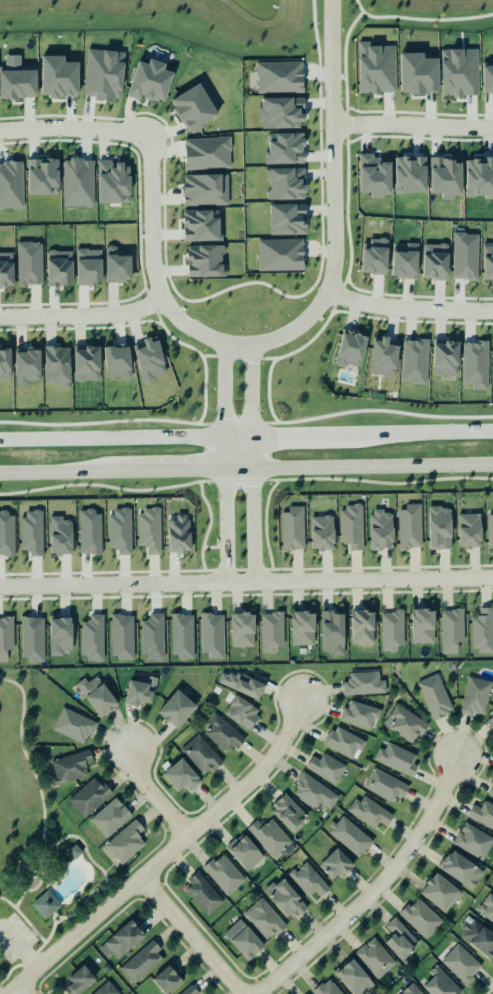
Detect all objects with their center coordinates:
road: (358, 6)
park: (419, 14)
road: (427, 20)
road: (316, 34)
building: (382, 53)
road: (345, 57)
building: (460, 73)
building: (96, 77)
building: (60, 78)
building: (279, 78)
building: (488, 80)
building: (149, 82)
building: (19, 85)
building: (196, 109)
building: (283, 114)
road: (413, 125)
road: (74, 131)
building: (286, 150)
building: (209, 154)
building: (44, 177)
building: (480, 179)
building: (114, 182)
building: (286, 185)
building: (11, 186)
building: (207, 191)
road: (334, 194)
building: (289, 220)
building: (279, 256)
building: (377, 258)
building: (206, 262)
building: (436, 262)
building: (406, 263)
building: (30, 264)
building: (489, 264)
building: (118, 267)
building: (90, 268)
building: (61, 269)
building: (7, 270)
road: (155, 271)
road: (408, 306)
road: (83, 315)
building: (352, 350)
building: (385, 359)
building: (150, 360)
building: (447, 360)
building: (88, 364)
building: (119, 364)
building: (5, 365)
building: (58, 365)
building: (28, 366)
building: (476, 367)
road: (224, 406)
road: (252, 406)
road: (484, 434)
road: (237, 438)
road: (487, 468)
road: (238, 469)
road: (367, 469)
road: (178, 471)
road: (65, 473)
road: (252, 525)
road: (226, 526)
building: (352, 527)
building: (411, 527)
building: (441, 528)
building: (292, 530)
building: (382, 530)
building: (490, 530)
building: (149, 531)
building: (471, 531)
building: (32, 532)
building: (90, 532)
building: (120, 532)
building: (323, 533)
building: (7, 534)
building: (179, 535)
building: (61, 536)
road: (246, 582)
building: (424, 626)
building: (364, 627)
building: (304, 629)
building: (244, 630)
building: (392, 630)
building: (452, 630)
building: (482, 631)
building: (272, 633)
building: (334, 633)
building: (61, 636)
building: (182, 636)
building: (212, 636)
building: (123, 637)
building: (6, 638)
building: (153, 638)
building: (33, 639)
building: (93, 639)
building: (242, 684)
building: (364, 684)
building: (142, 691)
building: (98, 696)
building: (435, 697)
building: (476, 697)
building: (178, 710)
building: (244, 714)
building: (360, 714)
building: (490, 722)
building: (406, 724)
building: (74, 726)
building: (223, 735)
building: (345, 743)
building: (202, 755)
building: (397, 759)
building: (71, 767)
building: (327, 769)
building: (182, 776)
building: (386, 787)
building: (491, 789)
building: (314, 793)
road: (157, 795)
building: (90, 798)
road: (41, 802)
building: (371, 812)
building: (291, 814)
building: (482, 815)
building: (111, 818)
building: (269, 837)
building: (351, 837)
building: (474, 841)
building: (127, 842)
park: (37, 845)
building: (245, 852)
road: (146, 856)
road: (167, 856)
building: (337, 865)
building: (462, 870)
building: (224, 875)
building: (310, 880)
road: (375, 888)
road: (97, 890)
building: (441, 892)
building: (204, 895)
building: (287, 899)
building: (42, 905)
building: (487, 908)
road: (57, 917)
building: (421, 918)
road: (52, 919)
building: (265, 919)
road: (29, 926)
road: (195, 935)
building: (479, 938)
parking lot: (13, 939)
building: (245, 939)
building: (401, 939)
road: (26, 940)
building: (123, 941)
road: (18, 948)
building: (377, 958)
building: (142, 962)
building: (463, 965)
building: (355, 977)
building: (168, 980)
building: (80, 981)
building: (441, 982)
building: (328, 988)
building: (107, 989)
building: (413, 990)
building: (188, 991)
road: (15, 992)

